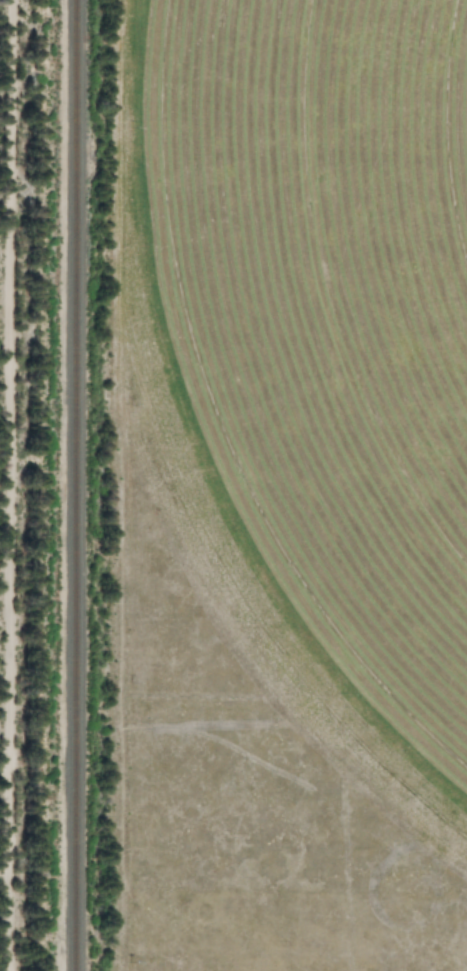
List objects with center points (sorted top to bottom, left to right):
crop: (308, 330)
road: (8, 485)
railway: (71, 485)

